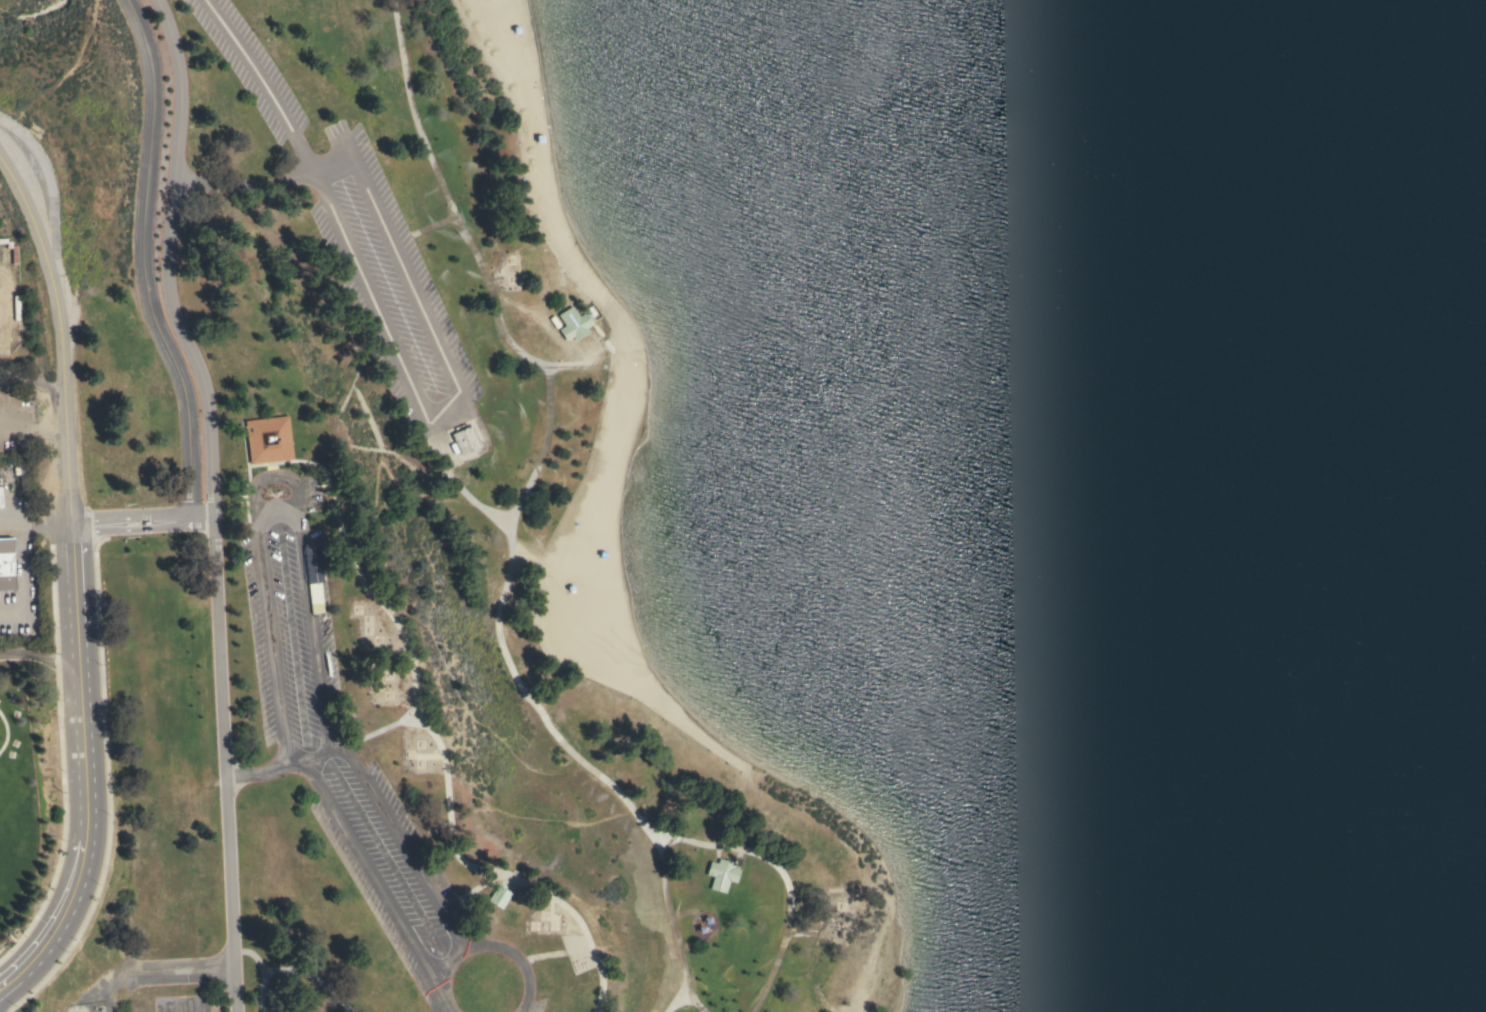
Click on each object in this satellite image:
parking lot: (249, 66)
road: (261, 81)
road: (245, 185)
road: (452, 215)
road: (421, 230)
road: (142, 261)
parking lot: (386, 281)
building: (573, 323)
road: (32, 378)
road: (451, 398)
road: (430, 431)
building: (268, 439)
building: (465, 440)
road: (267, 477)
road: (461, 488)
park: (758, 499)
road: (211, 500)
road: (143, 523)
road: (9, 525)
road: (46, 527)
building: (6, 564)
road: (20, 577)
building: (314, 577)
road: (76, 581)
parking lot: (291, 614)
road: (40, 651)
road: (376, 730)
road: (429, 731)
road: (564, 745)
road: (270, 770)
road: (391, 824)
building: (721, 874)
parking lot: (397, 875)
road: (377, 880)
road: (470, 891)
building: (497, 896)
road: (684, 913)
road: (672, 928)
road: (799, 932)
road: (487, 946)
road: (554, 953)
road: (263, 970)
road: (176, 972)
road: (312, 977)
park: (487, 983)
road: (673, 1001)
parking lot: (181, 1003)
road: (180, 1008)
parking lot: (217, 1010)

